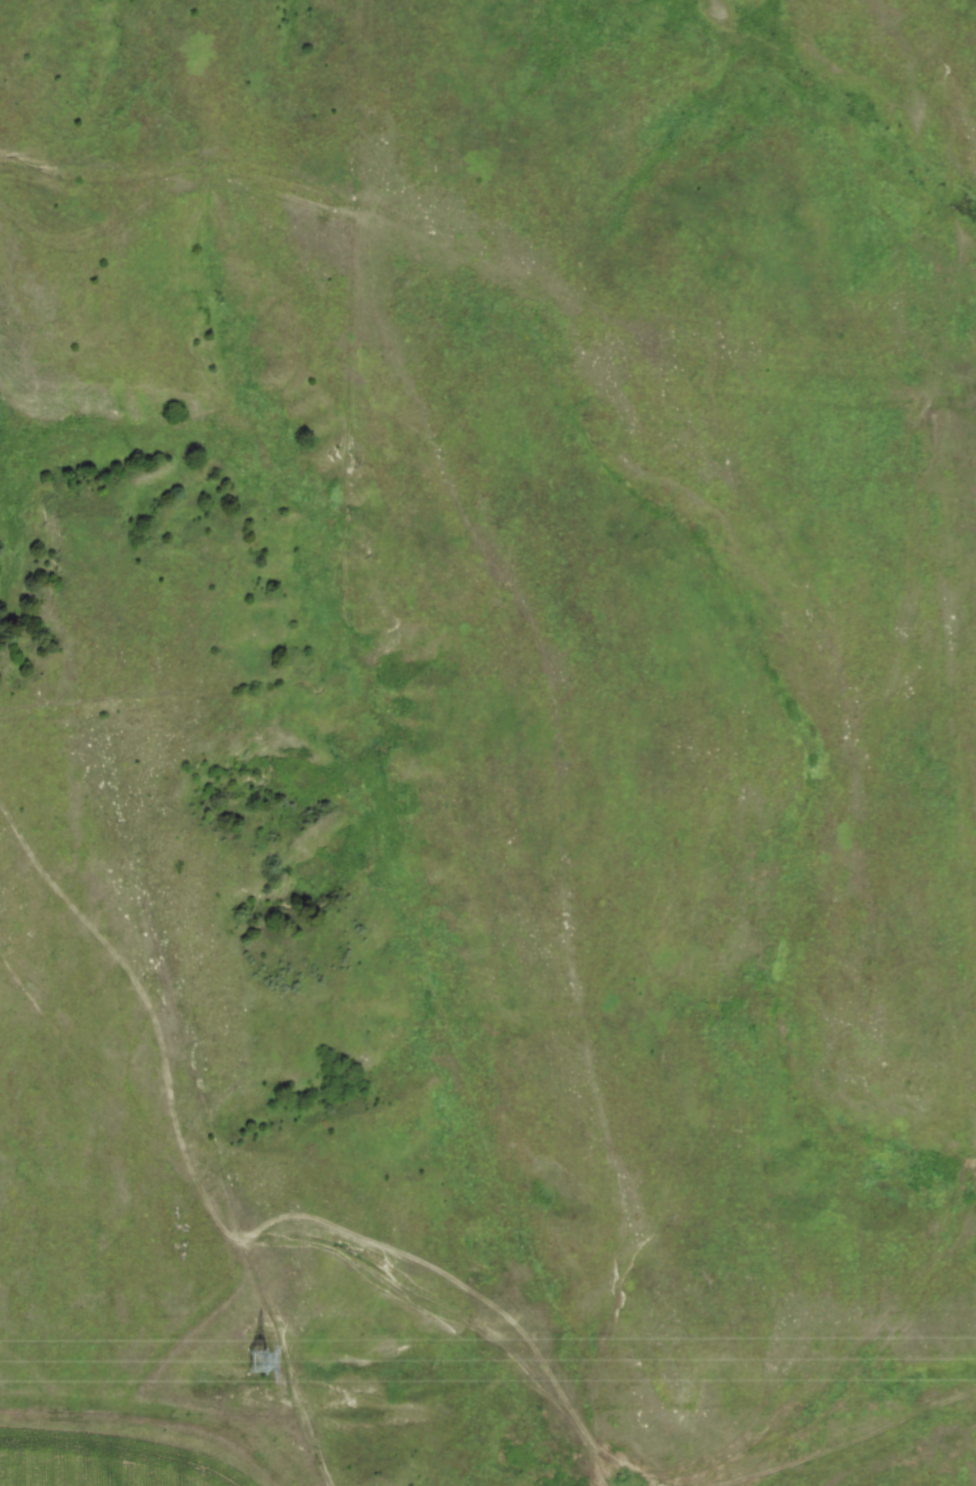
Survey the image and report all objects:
power tower: (255, 1362)

